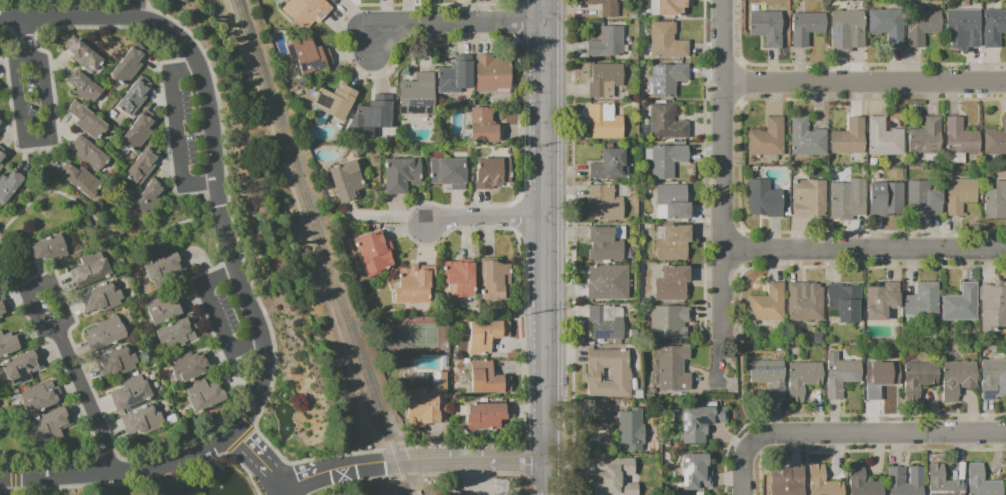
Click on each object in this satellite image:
building: (330, 0)
building: (335, 1)
road: (517, 2)
road: (64, 5)
building: (673, 7)
building: (607, 8)
road: (137, 9)
building: (308, 12)
road: (68, 20)
road: (517, 21)
road: (457, 22)
building: (851, 28)
building: (889, 28)
building: (923, 28)
building: (768, 29)
building: (808, 29)
building: (994, 29)
building: (964, 30)
road: (176, 35)
building: (668, 43)
building: (608, 44)
building: (84, 56)
building: (310, 57)
building: (131, 66)
building: (494, 76)
building: (457, 77)
building: (669, 80)
building: (606, 81)
road: (864, 84)
building: (86, 88)
building: (419, 96)
building: (136, 98)
building: (336, 103)
building: (378, 114)
building: (1, 121)
building: (88, 122)
building: (606, 123)
building: (668, 124)
road: (207, 126)
building: (486, 128)
road: (57, 132)
building: (139, 133)
road: (175, 133)
building: (0, 134)
building: (927, 138)
building: (851, 139)
building: (885, 139)
building: (962, 139)
building: (769, 140)
building: (808, 140)
road: (22, 141)
building: (996, 142)
building: (91, 154)
building: (3, 159)
building: (669, 161)
building: (144, 166)
building: (611, 167)
road: (41, 170)
building: (450, 174)
building: (494, 175)
building: (403, 176)
building: (82, 181)
building: (348, 182)
building: (11, 187)
road: (723, 187)
building: (961, 197)
building: (150, 198)
building: (925, 199)
building: (810, 200)
building: (887, 200)
road: (205, 201)
building: (766, 201)
building: (675, 202)
building: (847, 203)
building: (996, 203)
road: (571, 204)
building: (606, 204)
road: (483, 219)
road: (99, 223)
road: (544, 230)
railway: (314, 232)
road: (516, 240)
building: (674, 244)
building: (606, 245)
building: (50, 251)
road: (865, 251)
building: (375, 254)
building: (166, 270)
building: (91, 271)
road: (246, 277)
building: (461, 279)
building: (496, 282)
building: (609, 284)
building: (416, 285)
building: (674, 285)
building: (104, 299)
building: (924, 301)
building: (883, 302)
building: (806, 303)
building: (846, 304)
building: (769, 305)
building: (962, 305)
building: (4, 308)
building: (994, 308)
road: (254, 309)
building: (166, 310)
road: (215, 319)
building: (0, 323)
building: (670, 323)
building: (606, 324)
road: (56, 333)
building: (106, 335)
building: (178, 335)
park: (411, 335)
building: (488, 336)
building: (10, 345)
building: (119, 362)
building: (23, 368)
building: (192, 368)
building: (673, 369)
building: (610, 374)
building: (842, 376)
building: (770, 378)
building: (489, 380)
building: (804, 380)
building: (881, 380)
building: (920, 381)
building: (959, 381)
building: (994, 381)
building: (132, 394)
building: (206, 395)
building: (41, 398)
building: (428, 404)
road: (735, 408)
building: (603, 414)
building: (489, 417)
building: (144, 421)
road: (225, 421)
building: (702, 424)
building: (54, 425)
building: (632, 431)
road: (247, 432)
road: (877, 434)
road: (457, 446)
road: (390, 447)
road: (470, 460)
road: (261, 463)
road: (240, 464)
road: (740, 467)
road: (1, 470)
road: (338, 470)
building: (697, 473)
road: (121, 474)
building: (1005, 474)
building: (613, 476)
building: (898, 477)
road: (546, 478)
railway: (400, 479)
building: (983, 482)
building: (824, 483)
building: (864, 483)
building: (943, 483)
building: (792, 484)
road: (3, 488)
building: (454, 493)

